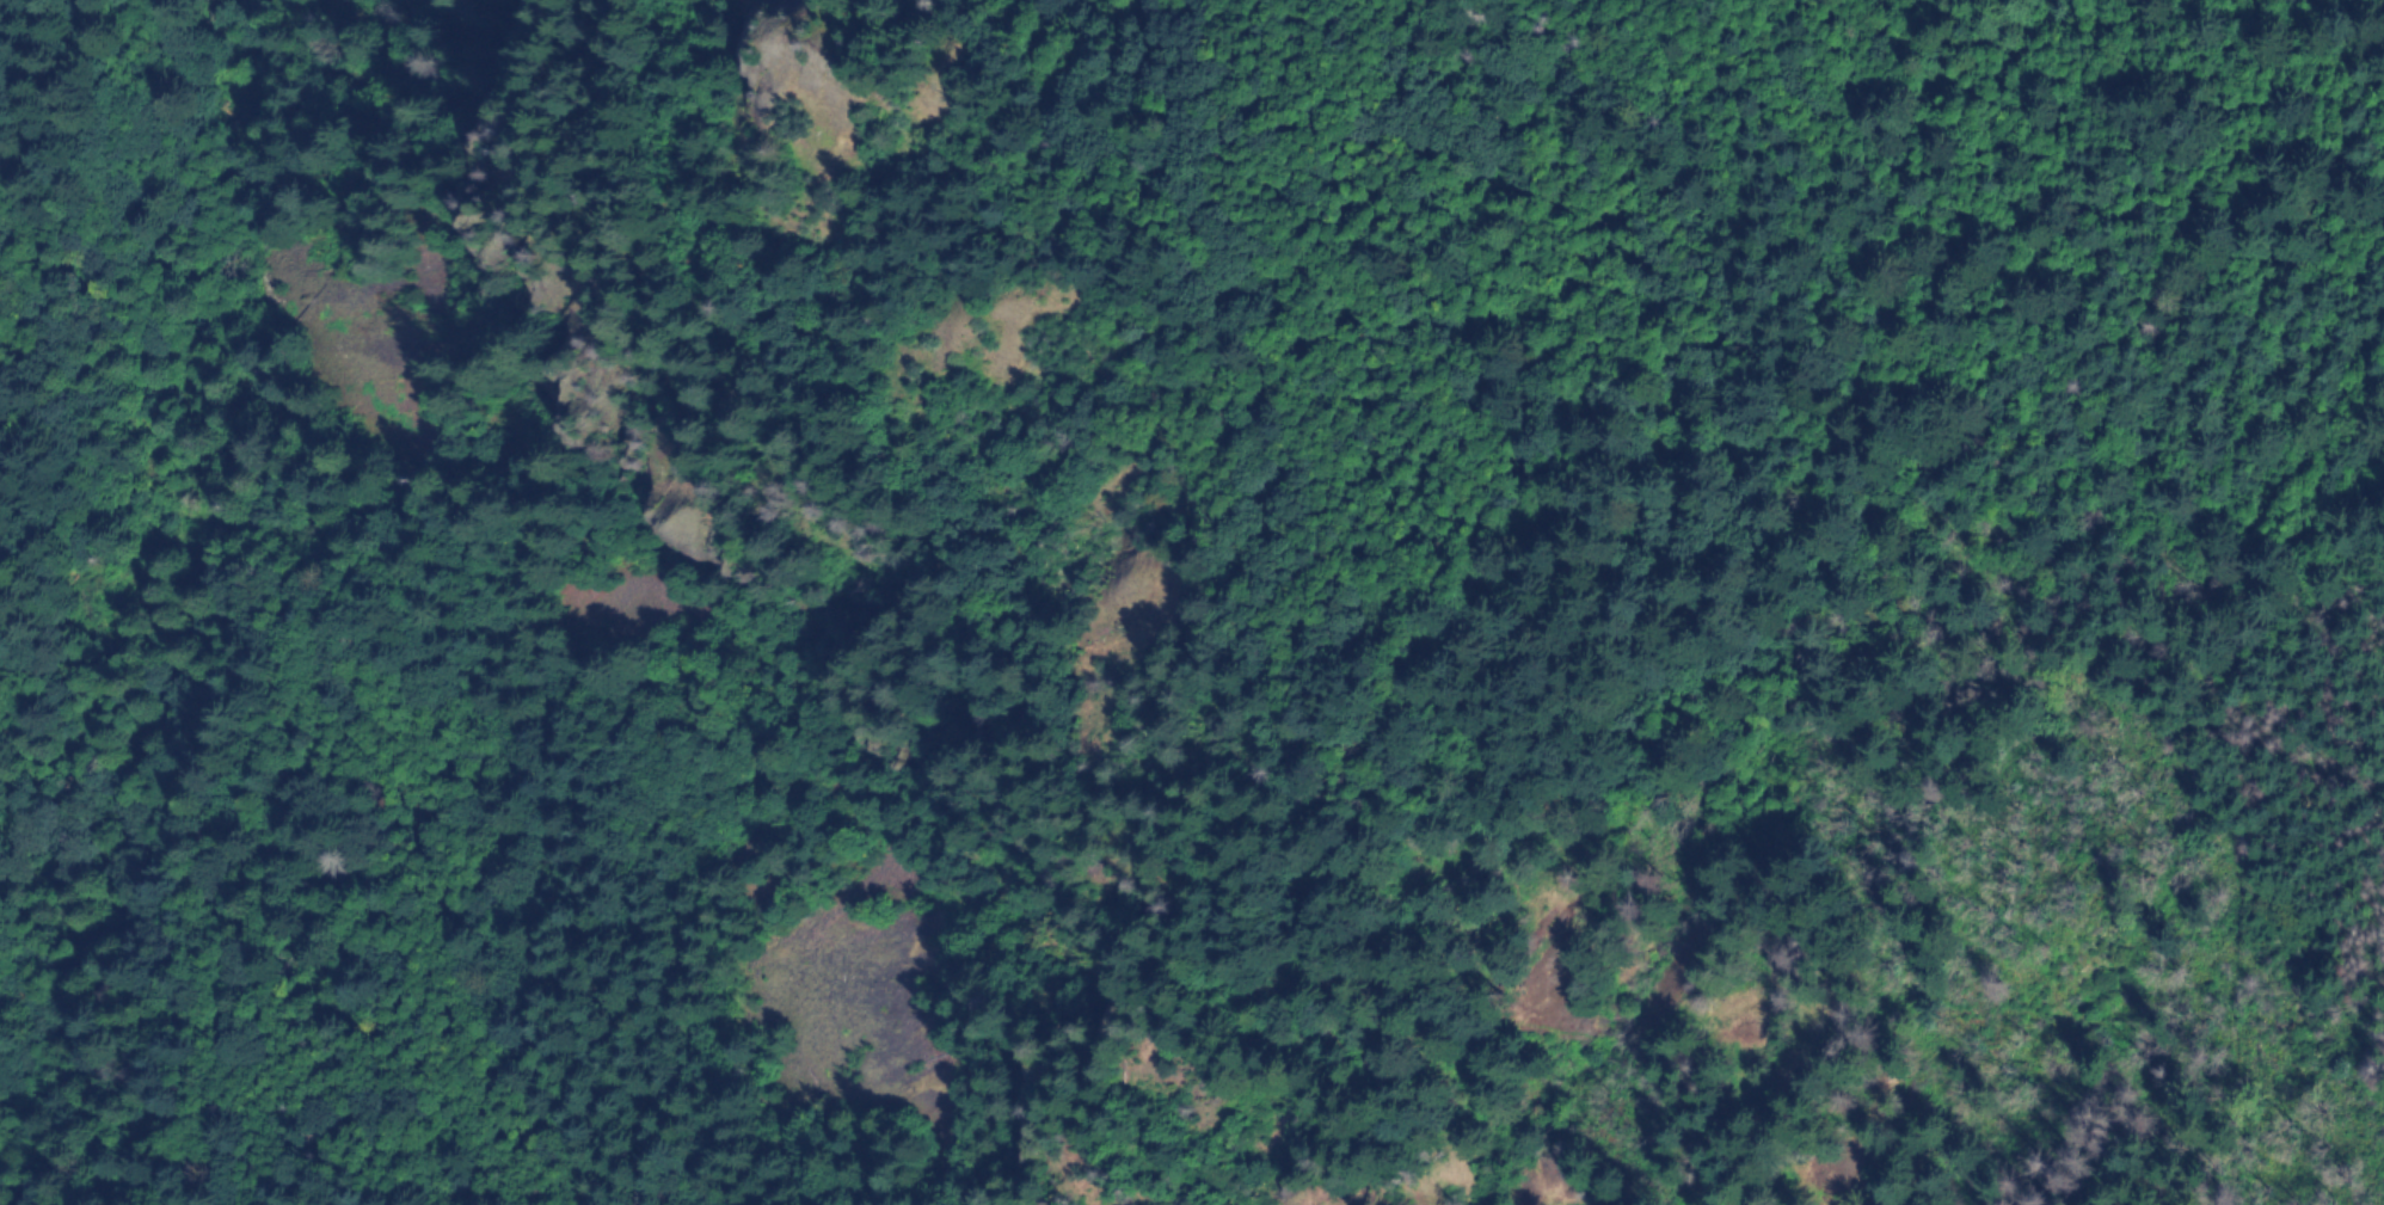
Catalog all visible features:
road: (913, 73)
road: (1180, 124)
road: (1577, 173)
road: (20, 316)
road: (1761, 596)
road: (1371, 1182)

